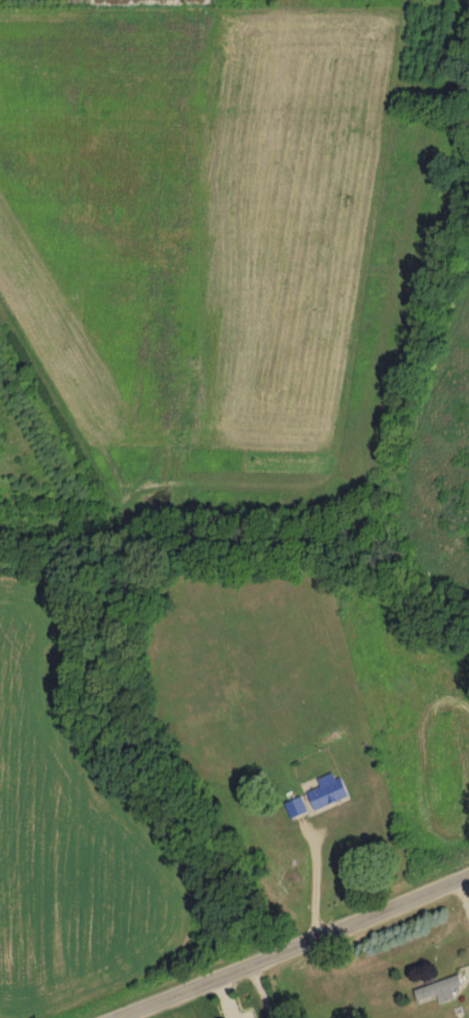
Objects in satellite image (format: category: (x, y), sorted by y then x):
road: (315, 883)
road: (295, 950)
building: (447, 988)
road: (267, 991)

